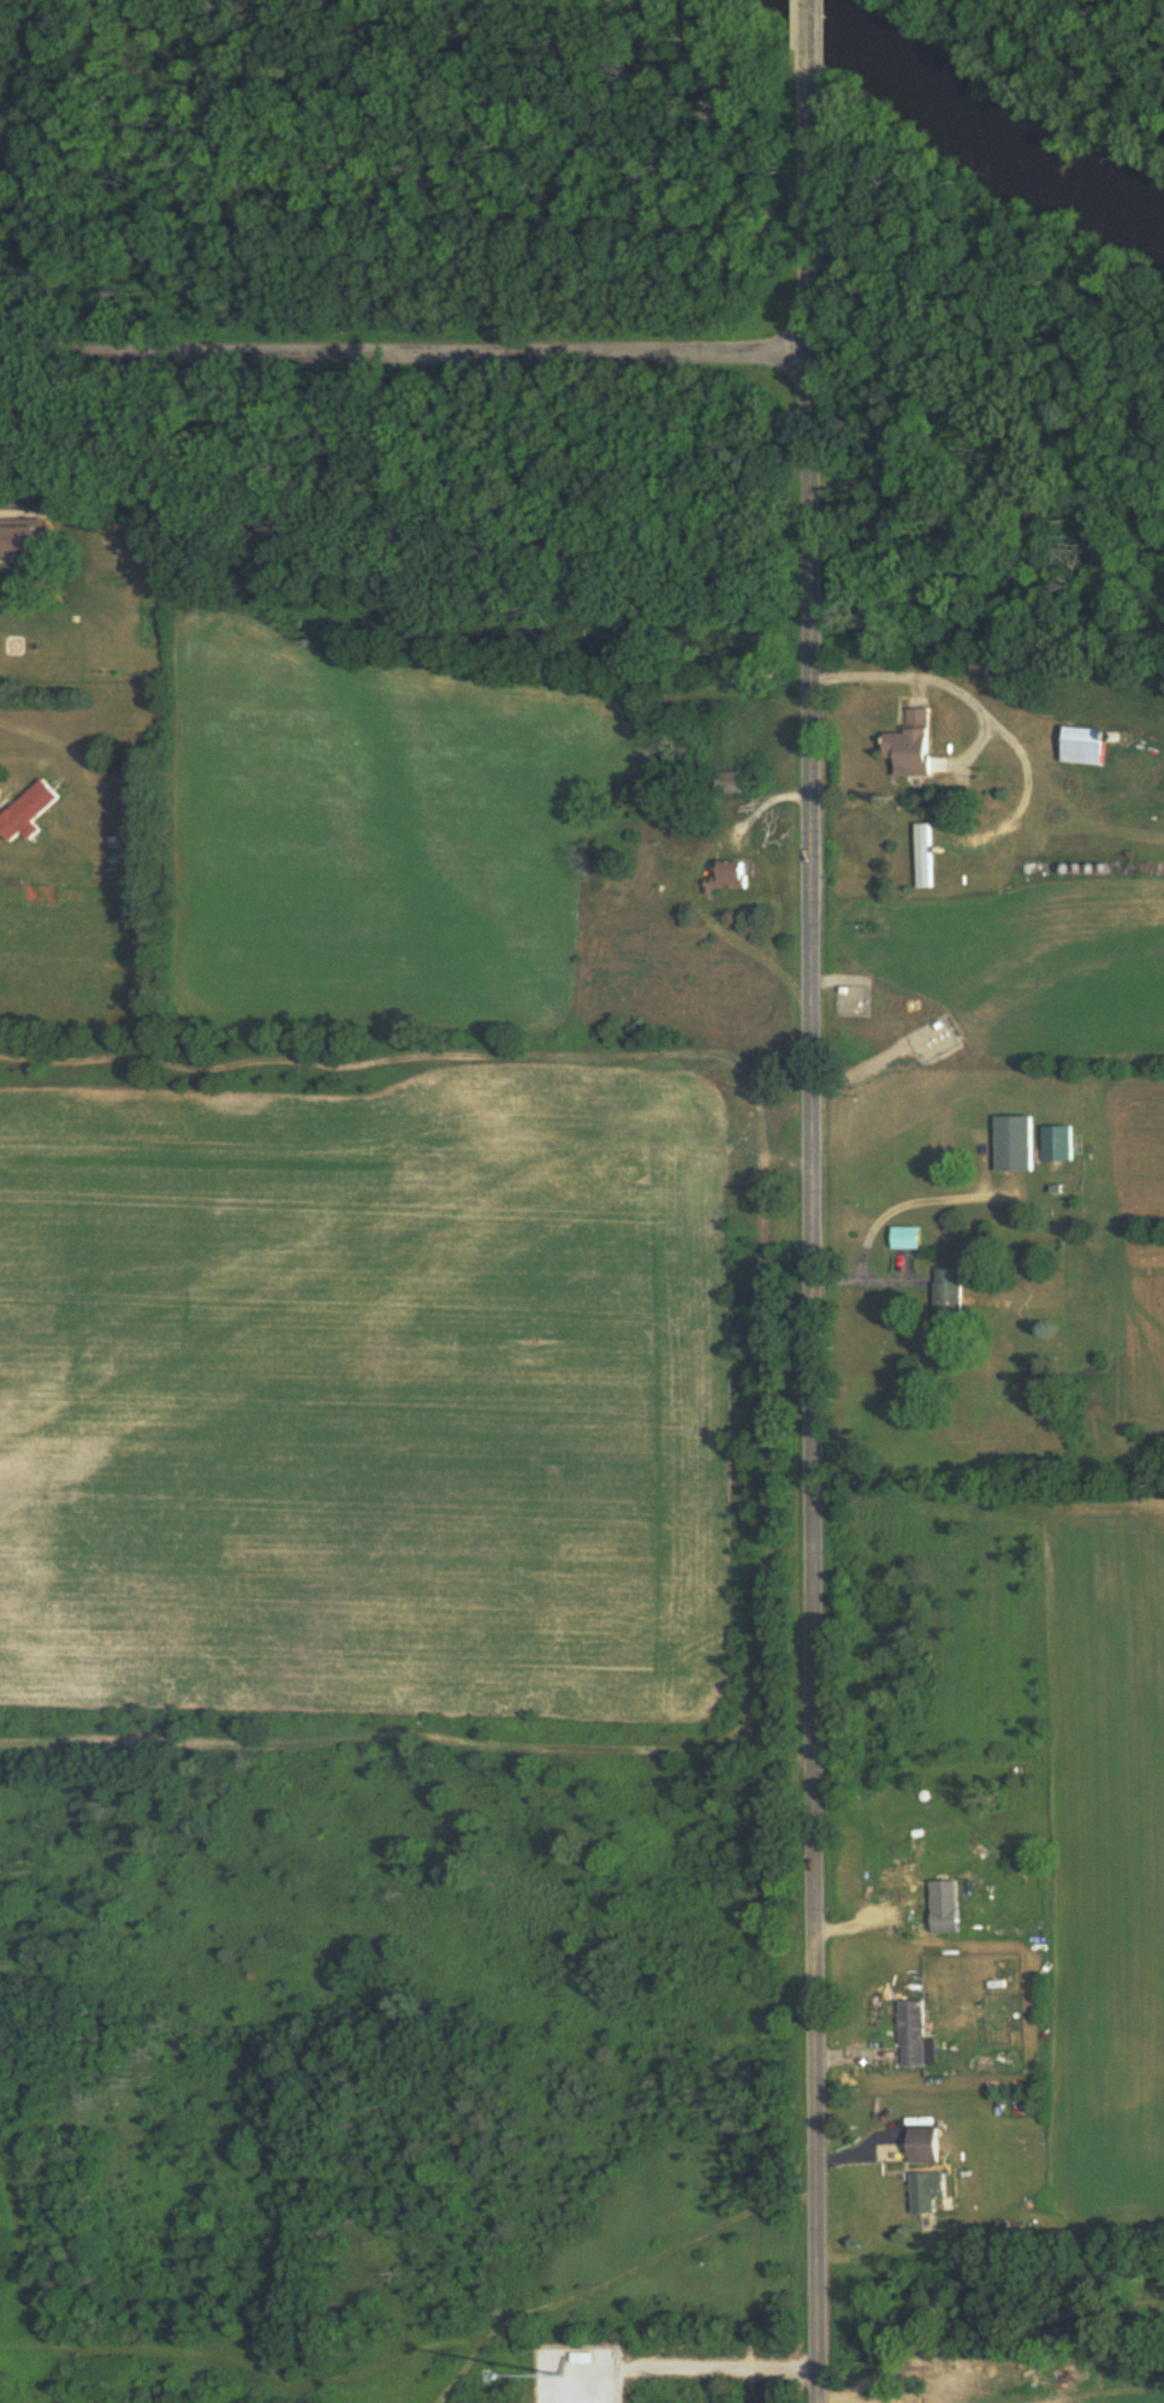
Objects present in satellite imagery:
road: (813, 41)
river: (979, 120)
road: (406, 357)
building: (20, 539)
building: (975, 666)
road: (938, 678)
road: (51, 741)
building: (909, 743)
building: (1083, 744)
building: (729, 779)
building: (25, 811)
building: (924, 855)
building: (729, 874)
building: (1012, 1143)
building: (904, 1236)
road: (812, 1242)
building: (946, 1293)
building: (908, 1876)
building: (943, 1920)
building: (910, 2031)
building: (921, 2143)
building: (926, 2189)
road: (720, 2367)

